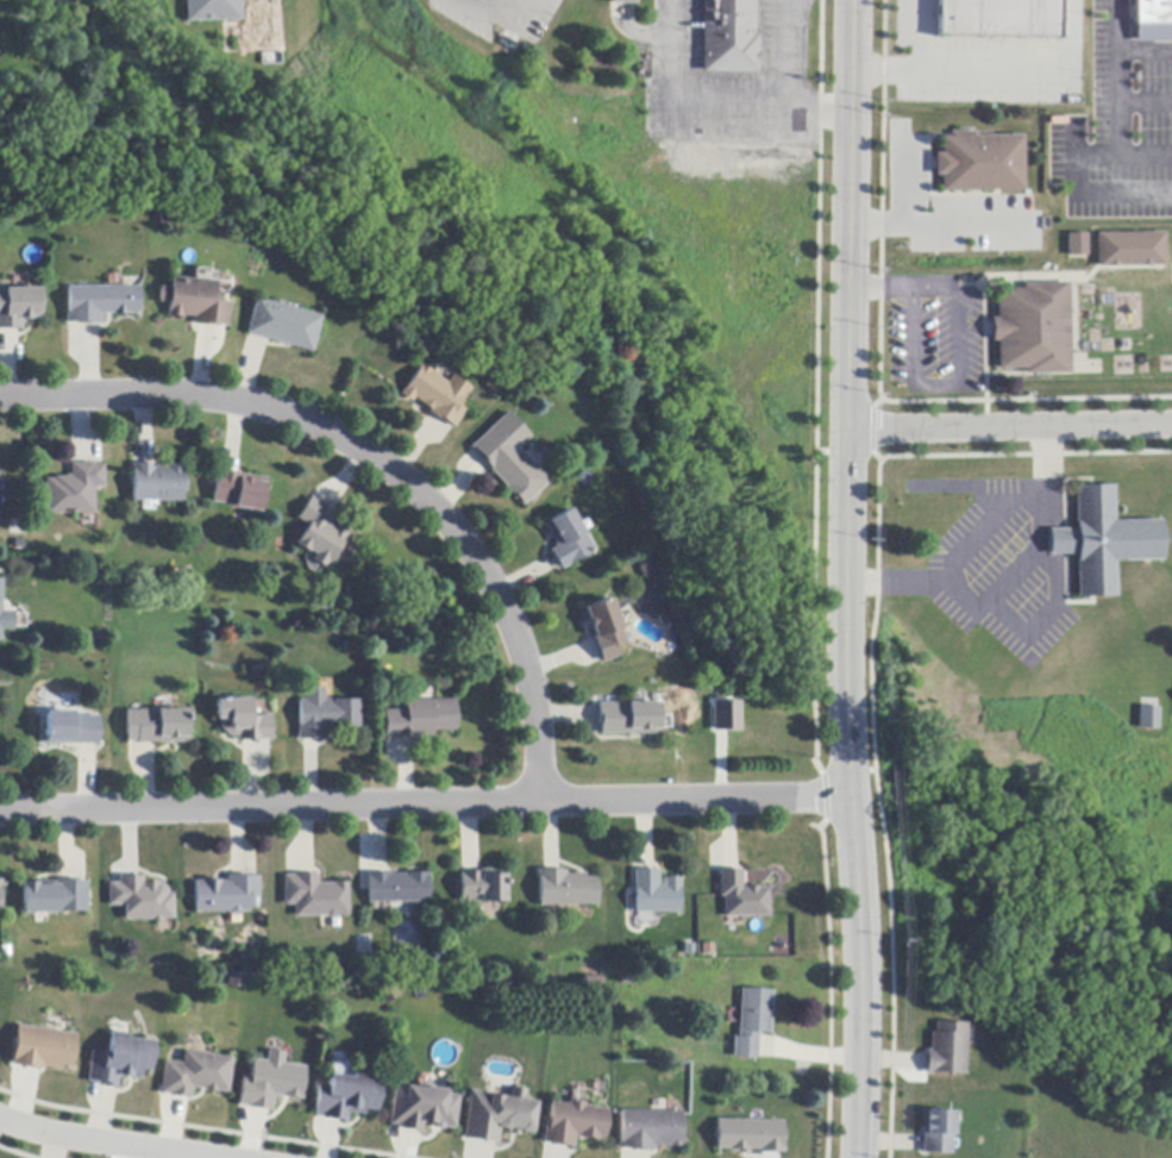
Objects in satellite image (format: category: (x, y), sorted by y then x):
building: (622, 1)
building: (209, 10)
building: (999, 19)
building: (1152, 20)
building: (728, 37)
road: (794, 54)
road: (991, 68)
road: (1113, 77)
road: (709, 105)
parking lot: (1121, 118)
road: (1120, 146)
building: (979, 163)
building: (1078, 244)
building: (1130, 250)
road: (878, 289)
building: (195, 301)
building: (100, 302)
building: (19, 307)
park: (455, 317)
building: (284, 325)
building: (1034, 328)
road: (957, 378)
building: (495, 383)
building: (439, 395)
road: (1009, 426)
building: (510, 458)
road: (376, 464)
building: (158, 483)
building: (74, 490)
building: (239, 490)
building: (0, 501)
building: (321, 533)
building: (568, 539)
building: (1105, 540)
road: (978, 542)
road: (845, 578)
building: (5, 616)
building: (604, 630)
building: (723, 713)
building: (326, 718)
building: (1148, 718)
building: (420, 719)
building: (628, 719)
building: (242, 720)
building: (157, 726)
building: (71, 728)
road: (425, 801)
building: (482, 887)
building: (397, 888)
building: (566, 889)
building: (656, 894)
building: (226, 895)
building: (1, 896)
building: (741, 896)
building: (56, 897)
building: (315, 897)
building: (142, 900)
building: (234, 979)
building: (751, 1022)
building: (42, 1047)
building: (947, 1050)
building: (120, 1060)
building: (195, 1075)
building: (270, 1083)
building: (346, 1097)
building: (421, 1109)
building: (497, 1115)
building: (574, 1123)
building: (648, 1129)
building: (938, 1132)
building: (747, 1134)
road: (98, 1143)

